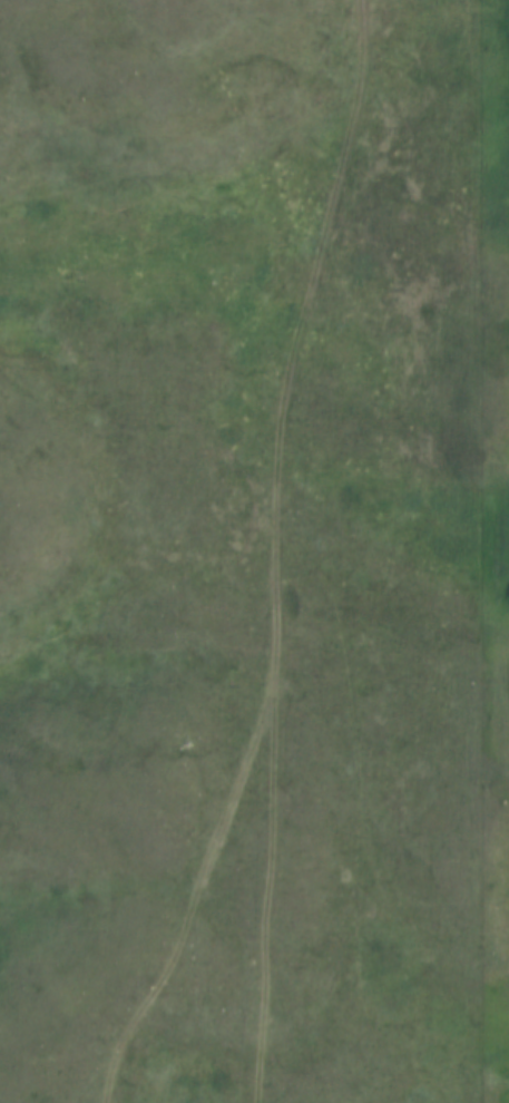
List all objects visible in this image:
road: (280, 548)

